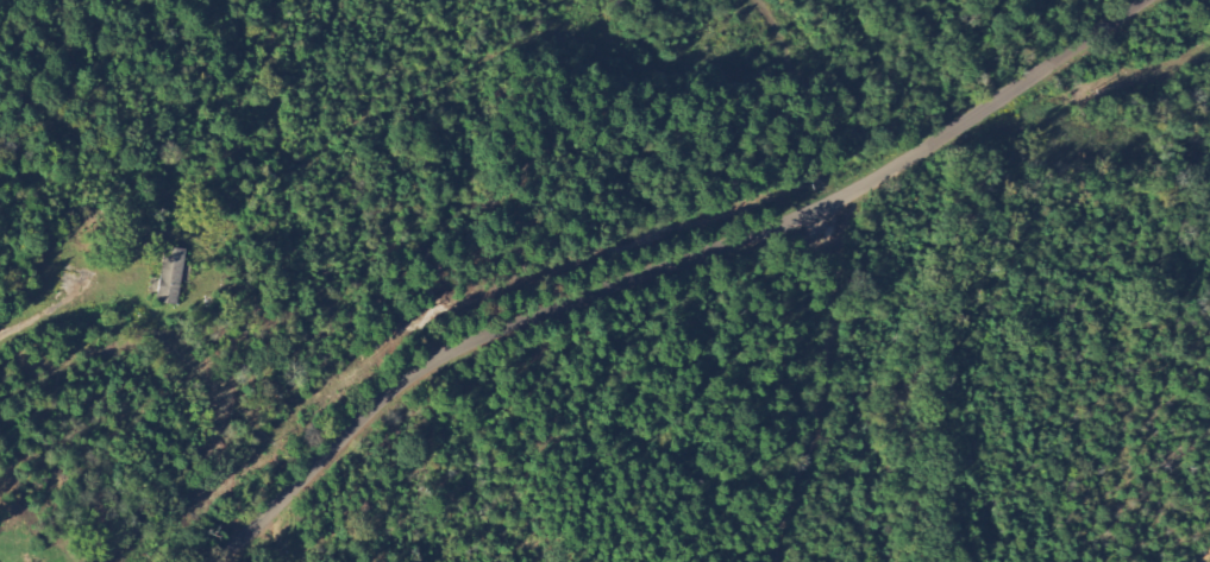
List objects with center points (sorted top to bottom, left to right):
road: (666, 265)
building: (171, 276)

